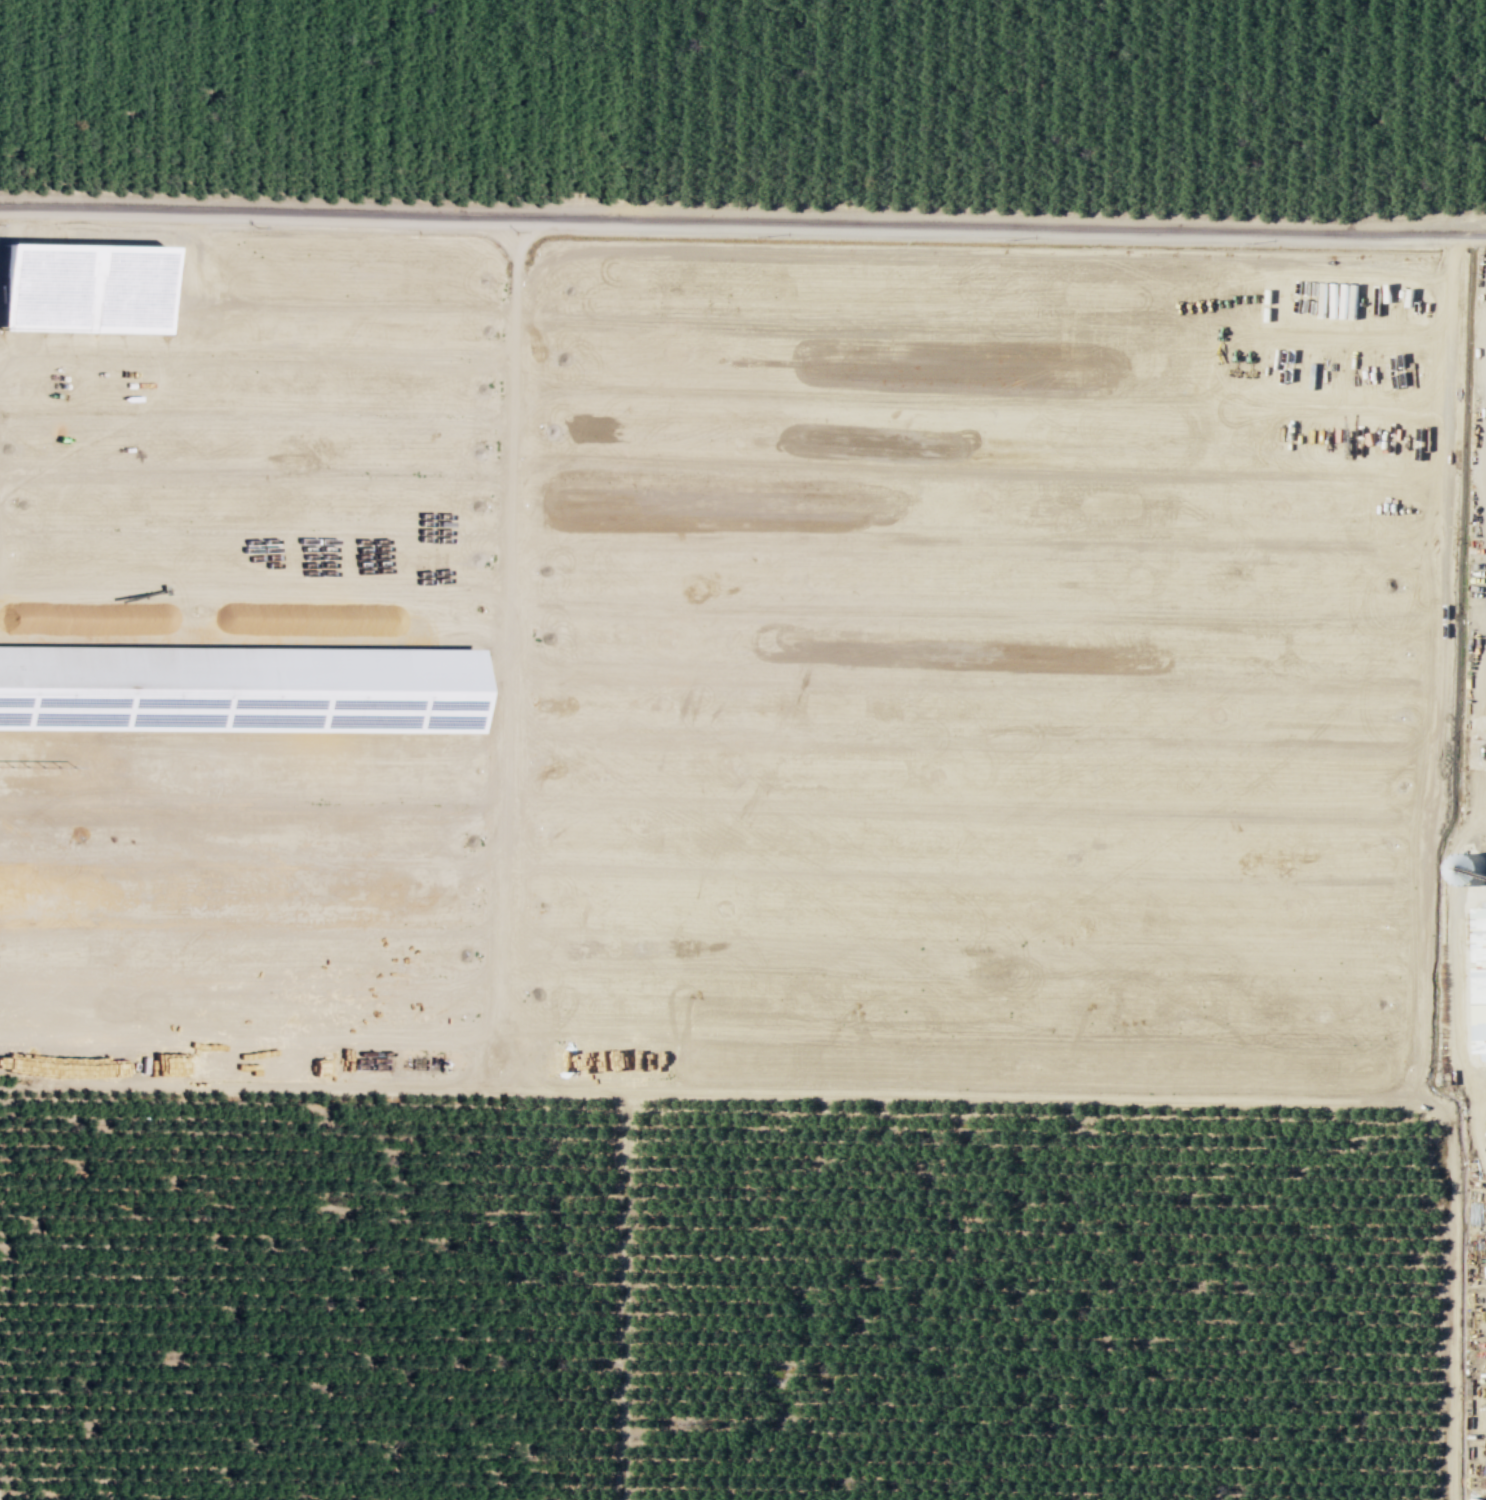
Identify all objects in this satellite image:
road: (742, 208)
road: (743, 220)
building: (78, 290)
road: (511, 428)
road: (254, 595)
road: (1440, 669)
road: (1472, 800)
road: (1472, 830)
road: (501, 878)
building: (1477, 976)
road: (700, 1092)
road: (1448, 1287)
road: (623, 1295)

